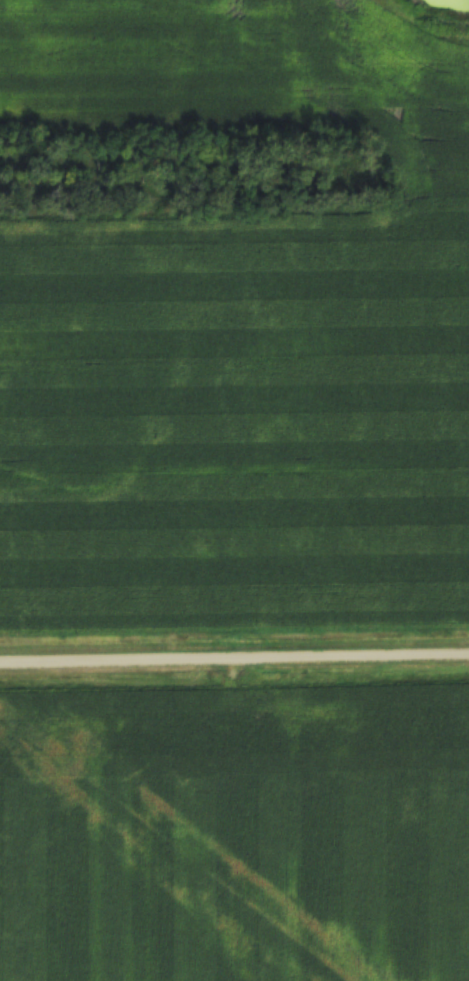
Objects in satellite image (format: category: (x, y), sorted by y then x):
road: (234, 656)

